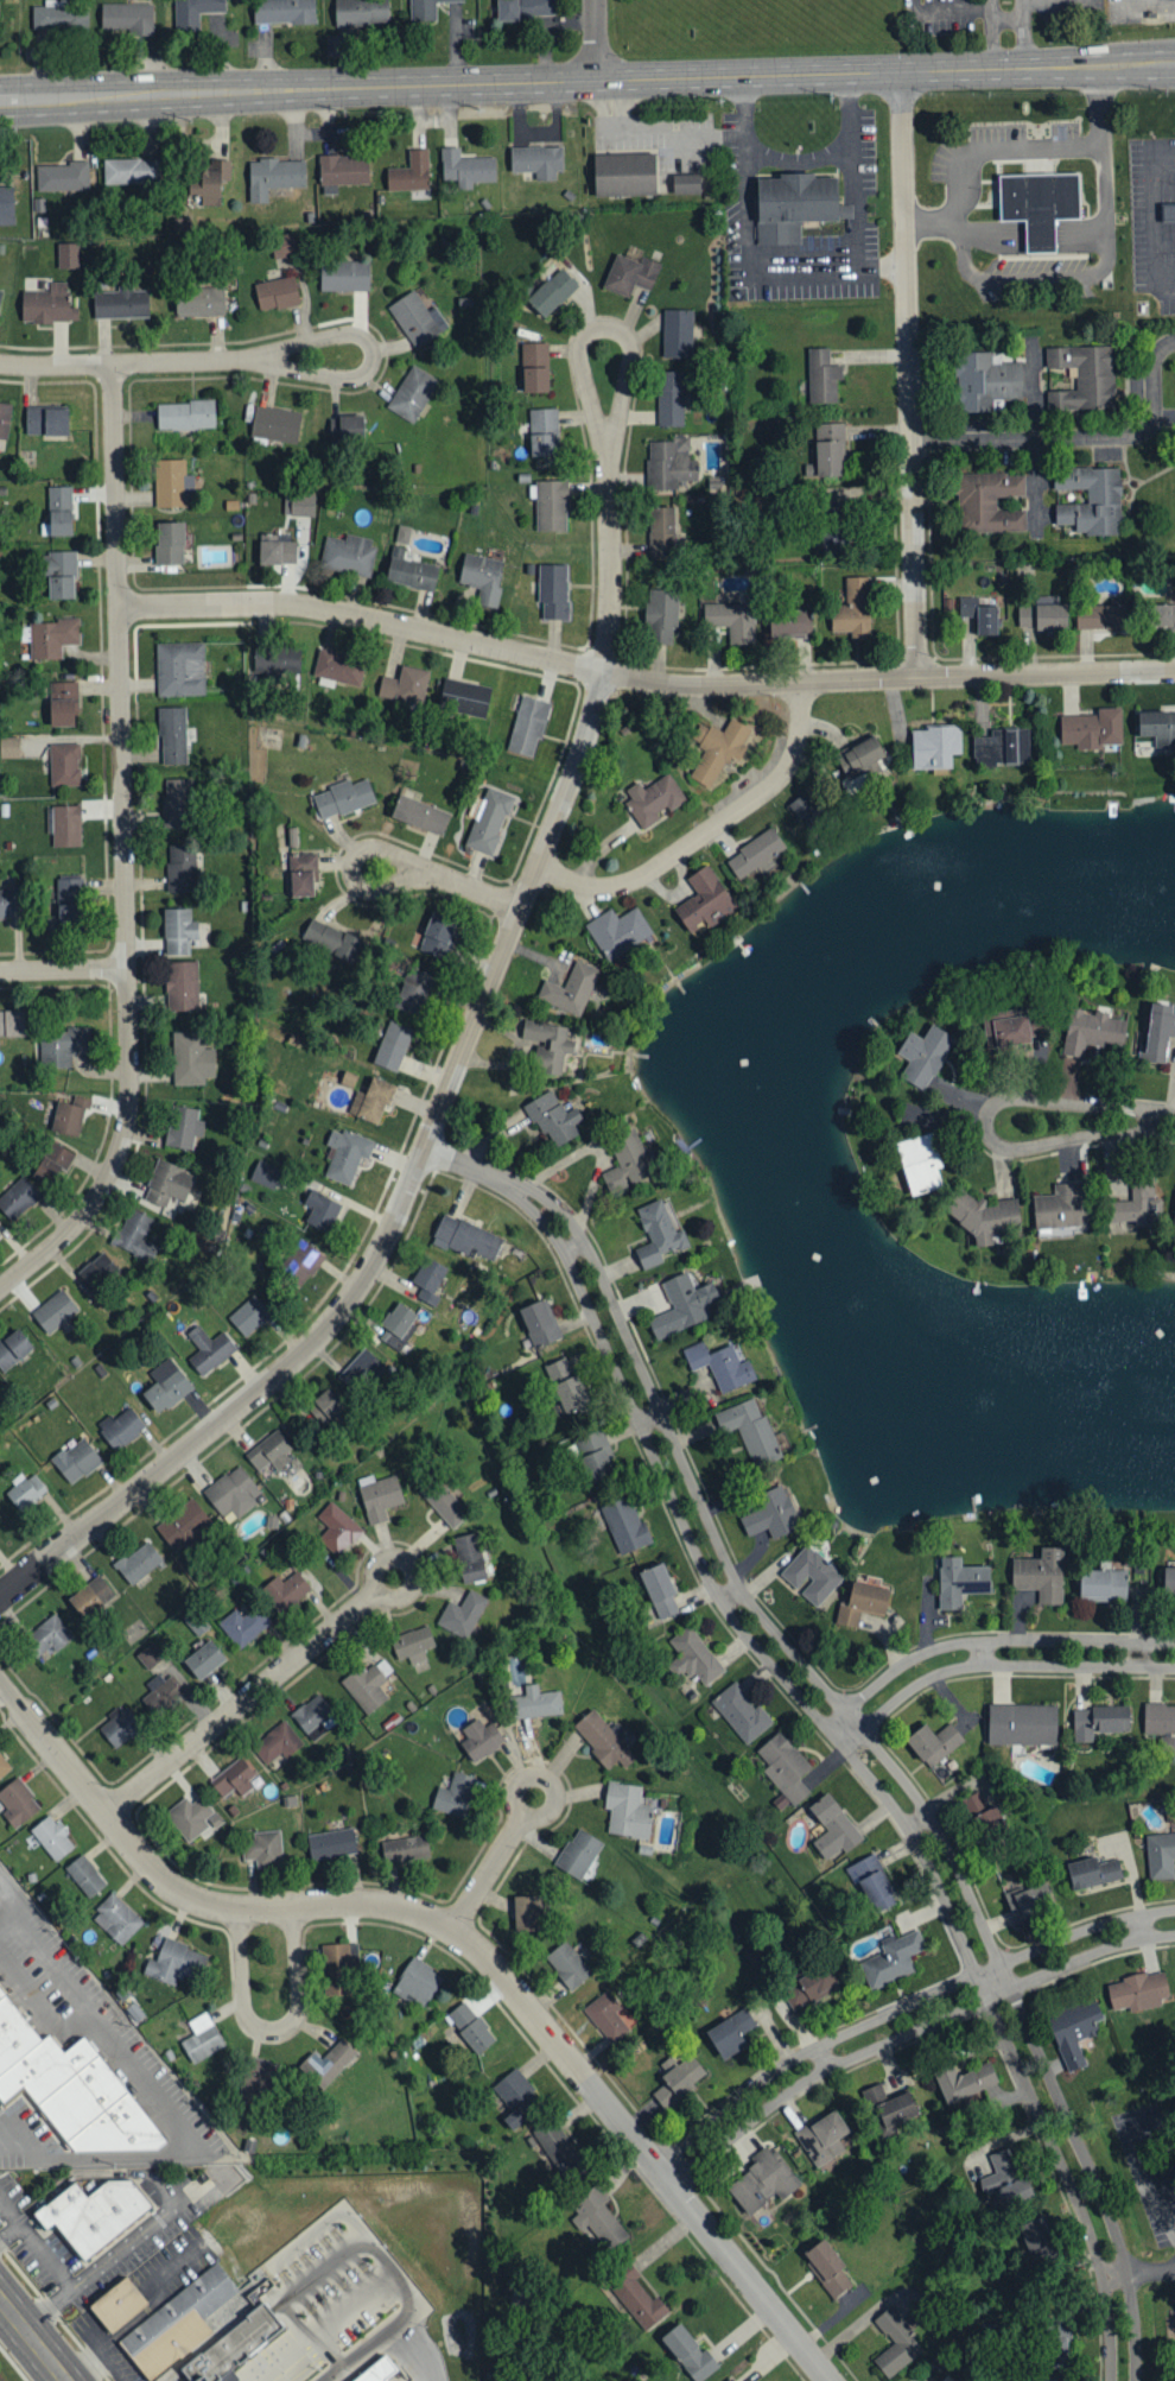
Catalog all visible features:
building: (425, 10)
building: (525, 10)
road: (955, 10)
parking lot: (1139, 10)
building: (284, 12)
building: (361, 12)
building: (193, 13)
building: (58, 17)
building: (126, 18)
road: (1008, 33)
road: (597, 40)
road: (586, 81)
road: (1009, 140)
building: (538, 162)
road: (798, 165)
building: (466, 169)
building: (131, 172)
building: (342, 172)
building: (623, 172)
building: (411, 173)
building: (62, 177)
building: (273, 177)
building: (686, 182)
building: (210, 183)
building: (1037, 202)
building: (795, 203)
building: (6, 205)
building: (1169, 210)
road: (1161, 219)
road: (858, 230)
building: (282, 246)
building: (68, 257)
building: (630, 273)
building: (344, 277)
building: (0, 292)
building: (552, 293)
building: (277, 295)
building: (199, 302)
building: (120, 304)
building: (47, 305)
building: (417, 319)
building: (678, 334)
road: (373, 356)
road: (133, 365)
building: (534, 368)
road: (909, 375)
building: (821, 378)
building: (1082, 379)
building: (986, 382)
building: (412, 394)
building: (671, 399)
building: (185, 416)
building: (5, 420)
building: (46, 422)
building: (275, 425)
road: (615, 425)
building: (345, 429)
building: (542, 433)
road: (1079, 439)
building: (827, 452)
building: (671, 464)
building: (172, 485)
building: (1091, 501)
building: (990, 504)
building: (299, 506)
building: (551, 507)
building: (58, 512)
building: (662, 534)
building: (402, 536)
building: (833, 542)
building: (169, 544)
building: (277, 551)
building: (349, 555)
building: (412, 575)
building: (61, 576)
building: (482, 578)
building: (553, 593)
building: (853, 610)
building: (980, 614)
road: (362, 618)
building: (661, 618)
building: (1101, 618)
building: (1161, 618)
building: (1043, 620)
building: (732, 621)
building: (789, 625)
building: (51, 638)
building: (277, 667)
building: (180, 670)
building: (337, 671)
road: (888, 679)
building: (405, 686)
building: (465, 698)
building: (62, 705)
building: (528, 727)
building: (1158, 728)
building: (1092, 729)
building: (172, 736)
building: (8, 748)
building: (935, 748)
building: (1003, 748)
building: (718, 753)
building: (860, 765)
building: (64, 766)
building: (342, 799)
building: (653, 800)
building: (177, 804)
building: (807, 811)
building: (420, 817)
building: (489, 822)
building: (65, 827)
road: (706, 832)
road: (123, 851)
road: (393, 854)
building: (756, 855)
building: (182, 869)
building: (301, 876)
building: (9, 903)
building: (704, 903)
building: (65, 906)
building: (178, 931)
building: (617, 933)
building: (437, 936)
building: (332, 939)
road: (63, 970)
building: (183, 986)
building: (571, 988)
building: (414, 990)
building: (1010, 1013)
building: (12, 1022)
building: (1011, 1031)
building: (1092, 1031)
building: (1160, 1031)
building: (548, 1044)
building: (62, 1045)
building: (393, 1045)
building: (923, 1055)
building: (191, 1058)
building: (371, 1101)
building: (69, 1114)
building: (554, 1119)
road: (1151, 1123)
road: (986, 1125)
building: (184, 1127)
building: (345, 1154)
building: (627, 1161)
building: (920, 1163)
building: (51, 1164)
road: (468, 1169)
building: (266, 1174)
building: (167, 1183)
building: (18, 1198)
road: (401, 1203)
building: (1061, 1207)
building: (1135, 1207)
building: (320, 1210)
building: (987, 1217)
building: (1174, 1224)
building: (659, 1234)
building: (135, 1235)
building: (465, 1239)
road: (577, 1248)
building: (304, 1262)
building: (96, 1269)
building: (430, 1280)
building: (682, 1304)
building: (55, 1311)
building: (249, 1316)
building: (539, 1323)
building: (398, 1325)
building: (13, 1349)
building: (208, 1349)
building: (720, 1366)
building: (558, 1369)
building: (361, 1370)
building: (166, 1385)
building: (571, 1394)
building: (324, 1407)
road: (652, 1420)
building: (762, 1423)
building: (120, 1427)
building: (612, 1450)
building: (269, 1451)
building: (76, 1459)
building: (598, 1465)
building: (25, 1490)
building: (233, 1493)
building: (379, 1496)
building: (447, 1506)
building: (771, 1514)
building: (637, 1519)
building: (185, 1525)
building: (337, 1530)
building: (470, 1558)
building: (139, 1564)
building: (812, 1575)
building: (1041, 1575)
building: (1169, 1577)
building: (960, 1582)
building: (1103, 1584)
building: (672, 1585)
building: (285, 1591)
building: (660, 1591)
building: (90, 1597)
road: (731, 1597)
building: (864, 1601)
building: (462, 1615)
building: (243, 1625)
building: (47, 1636)
building: (412, 1645)
building: (705, 1652)
road: (984, 1654)
road: (1141, 1655)
building: (150, 1657)
building: (204, 1660)
road: (288, 1660)
building: (367, 1687)
building: (161, 1693)
building: (535, 1703)
building: (752, 1706)
building: (315, 1717)
building: (1160, 1718)
building: (1099, 1722)
building: (1022, 1724)
building: (119, 1728)
road: (838, 1730)
building: (481, 1739)
building: (602, 1741)
building: (277, 1742)
building: (934, 1743)
road: (878, 1752)
building: (798, 1760)
road: (855, 1762)
building: (4, 1766)
building: (785, 1768)
building: (234, 1778)
building: (455, 1796)
building: (18, 1803)
building: (976, 1803)
building: (627, 1811)
building: (193, 1818)
road: (522, 1818)
building: (991, 1820)
road: (920, 1822)
building: (833, 1828)
building: (52, 1838)
building: (331, 1844)
building: (263, 1849)
building: (405, 1849)
building: (579, 1855)
building: (1161, 1855)
building: (1093, 1873)
building: (85, 1876)
building: (871, 1885)
road: (18, 1899)
building: (1029, 1902)
building: (527, 1914)
building: (116, 1919)
road: (1144, 1927)
road: (464, 1940)
building: (893, 1959)
building: (174, 1963)
building: (567, 1965)
road: (52, 1968)
building: (338, 1969)
building: (417, 1983)
building: (809, 1986)
building: (1138, 1991)
building: (606, 2016)
building: (470, 2027)
road: (103, 2031)
road: (274, 2032)
building: (1074, 2032)
building: (731, 2033)
building: (202, 2038)
road: (826, 2058)
building: (328, 2063)
building: (259, 2078)
building: (678, 2078)
building: (964, 2083)
building: (72, 2085)
building: (517, 2095)
building: (889, 2107)
building: (822, 2139)
road: (21, 2140)
building: (557, 2147)
road: (668, 2168)
building: (1005, 2179)
road: (1157, 2179)
building: (762, 2183)
building: (95, 2212)
building: (599, 2221)
building: (1037, 2243)
road: (61, 2268)
building: (827, 2268)
road: (1150, 2273)
road: (1114, 2275)
building: (119, 2303)
road: (355, 2303)
building: (641, 2305)
building: (180, 2320)
road: (33, 2339)
road: (374, 2342)
building: (896, 2344)
building: (236, 2345)
road: (426, 2345)
building: (688, 2354)
building: (1054, 2355)
building: (377, 2369)
building: (728, 2380)

